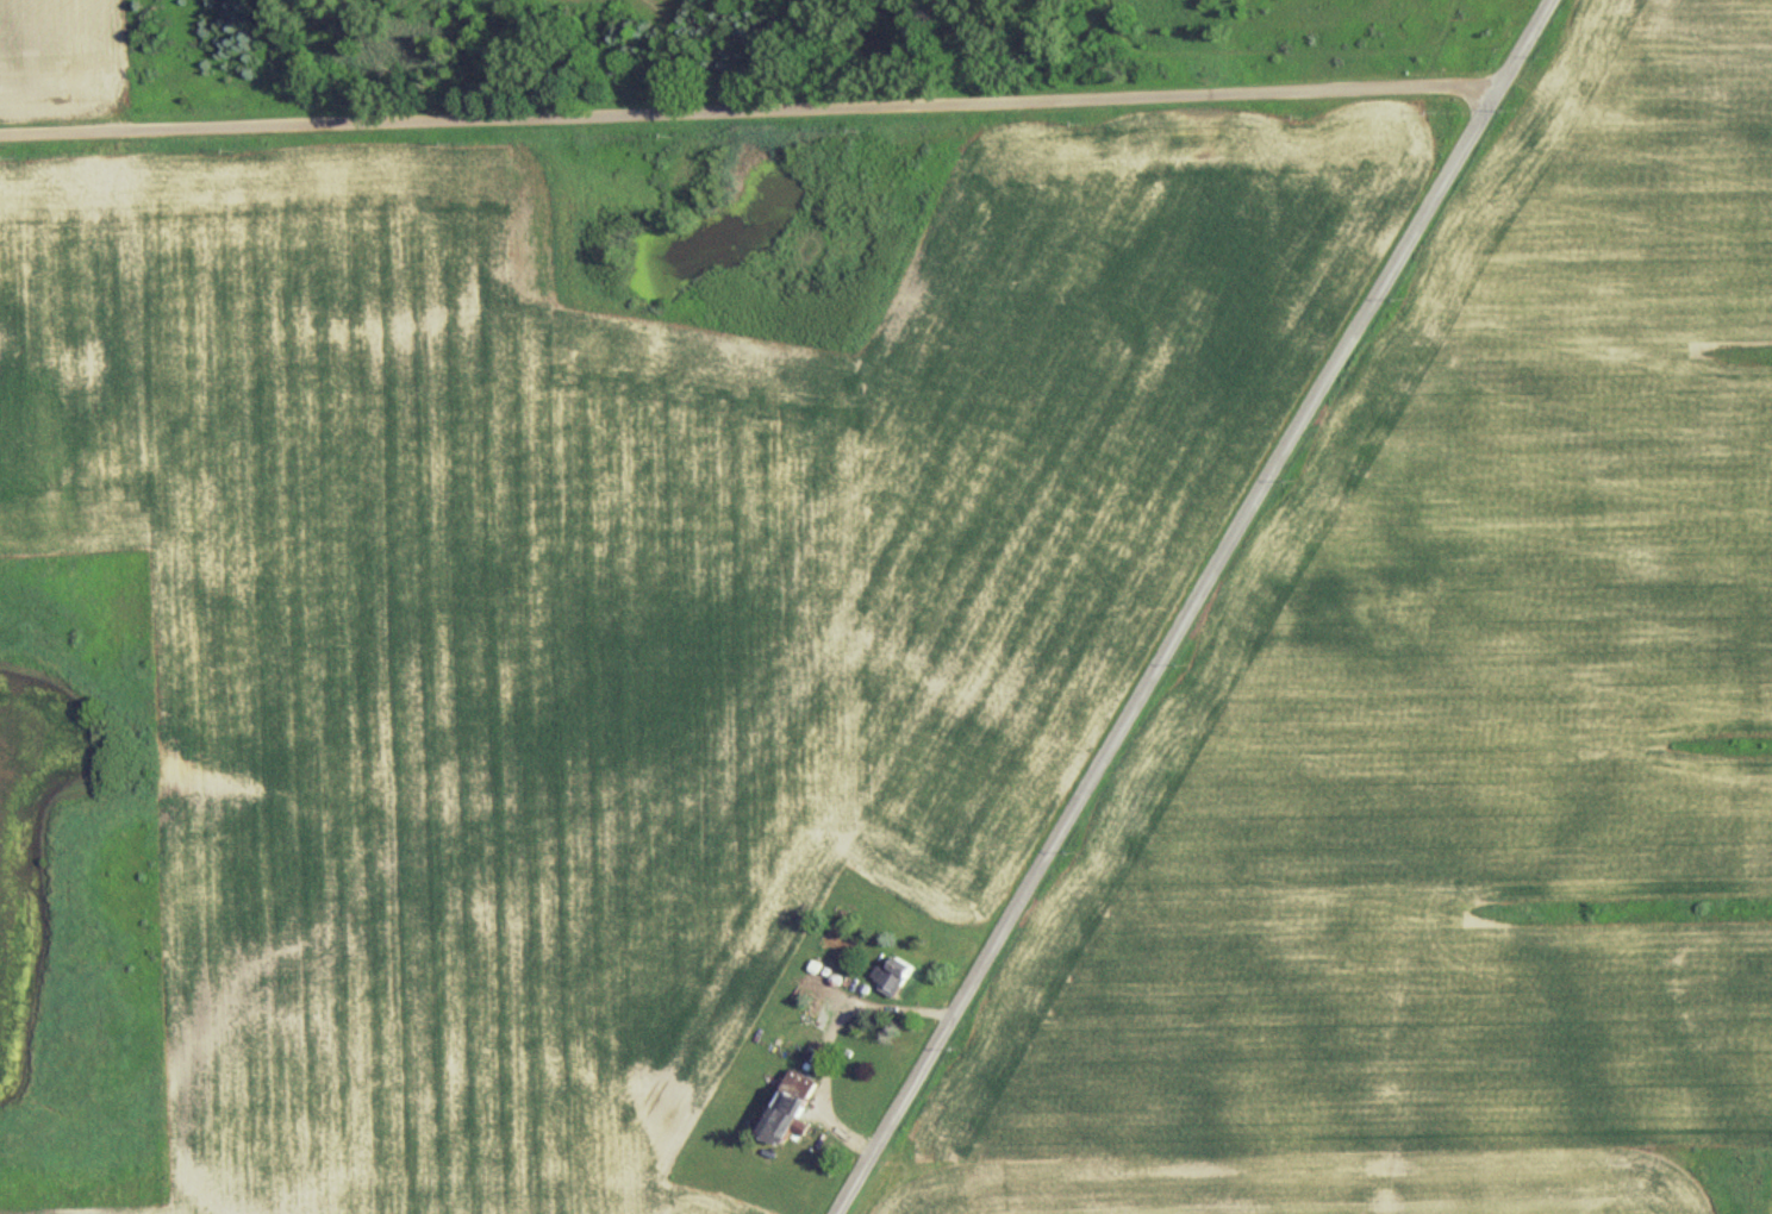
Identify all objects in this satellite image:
road: (744, 108)
road: (1184, 606)

